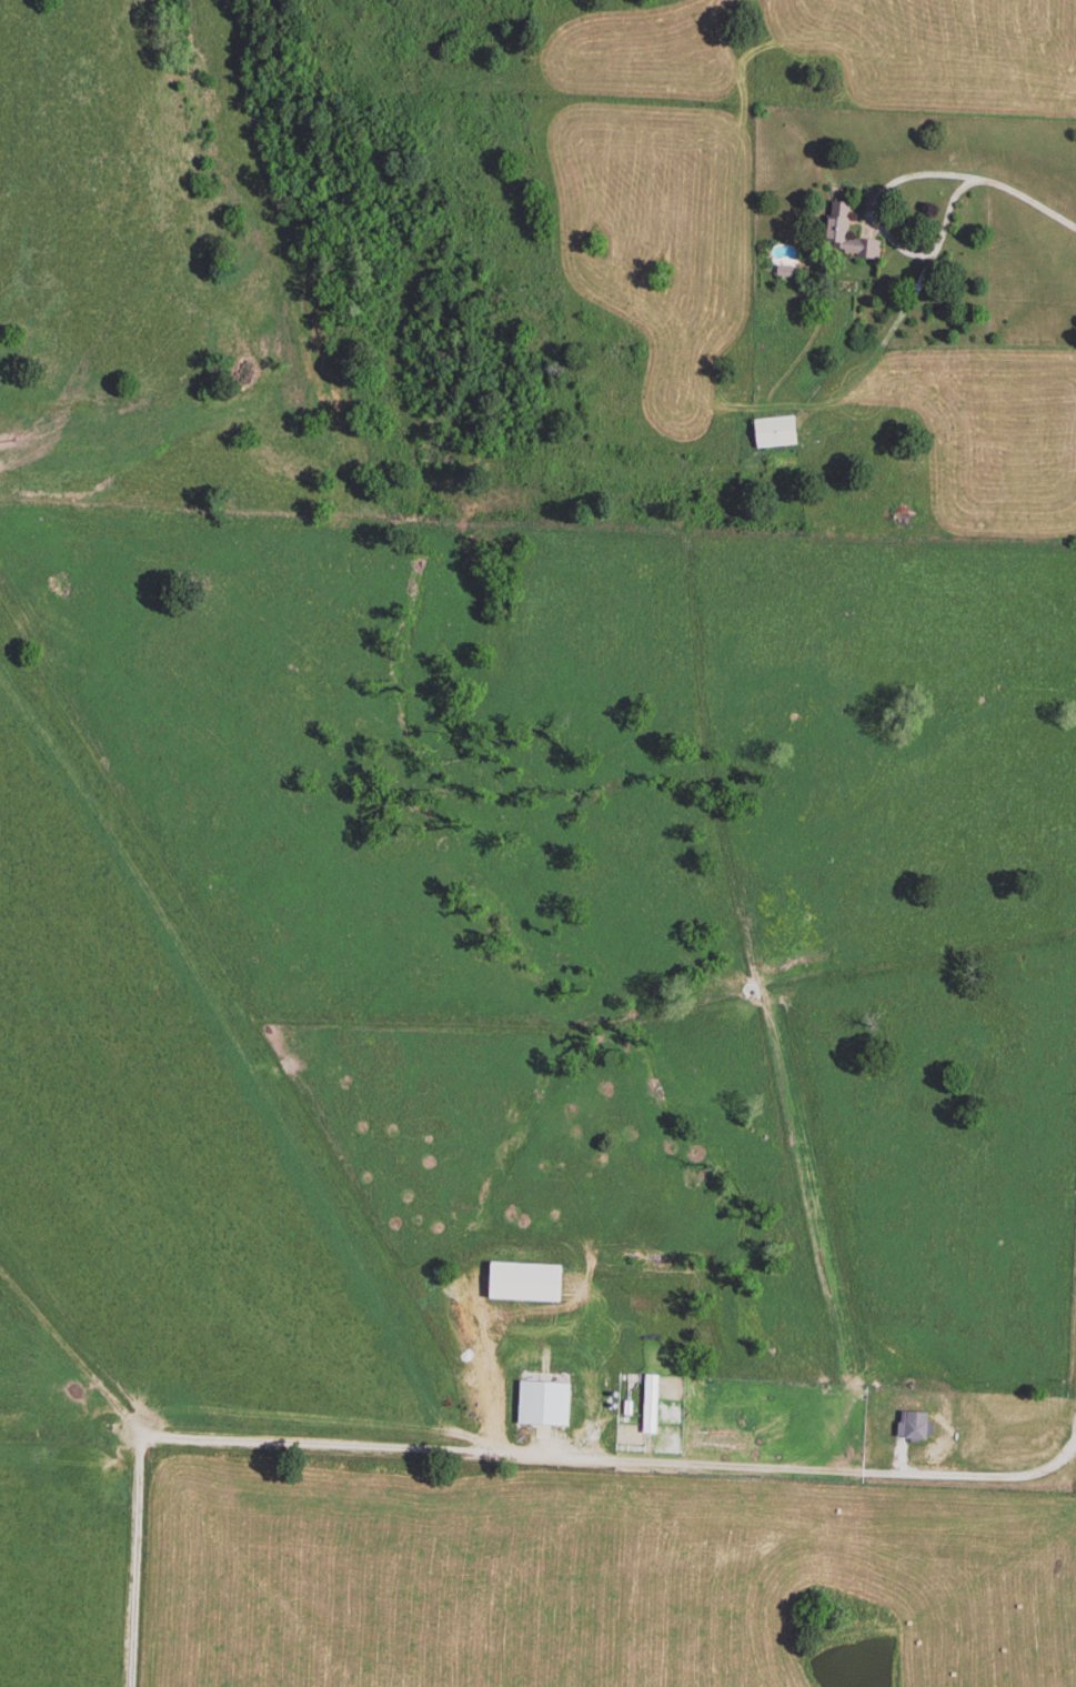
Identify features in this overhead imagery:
road: (1028, 201)
building: (845, 239)
road: (943, 250)
building: (771, 435)
building: (737, 1424)
building: (915, 1428)
road: (617, 1464)
road: (132, 1563)

